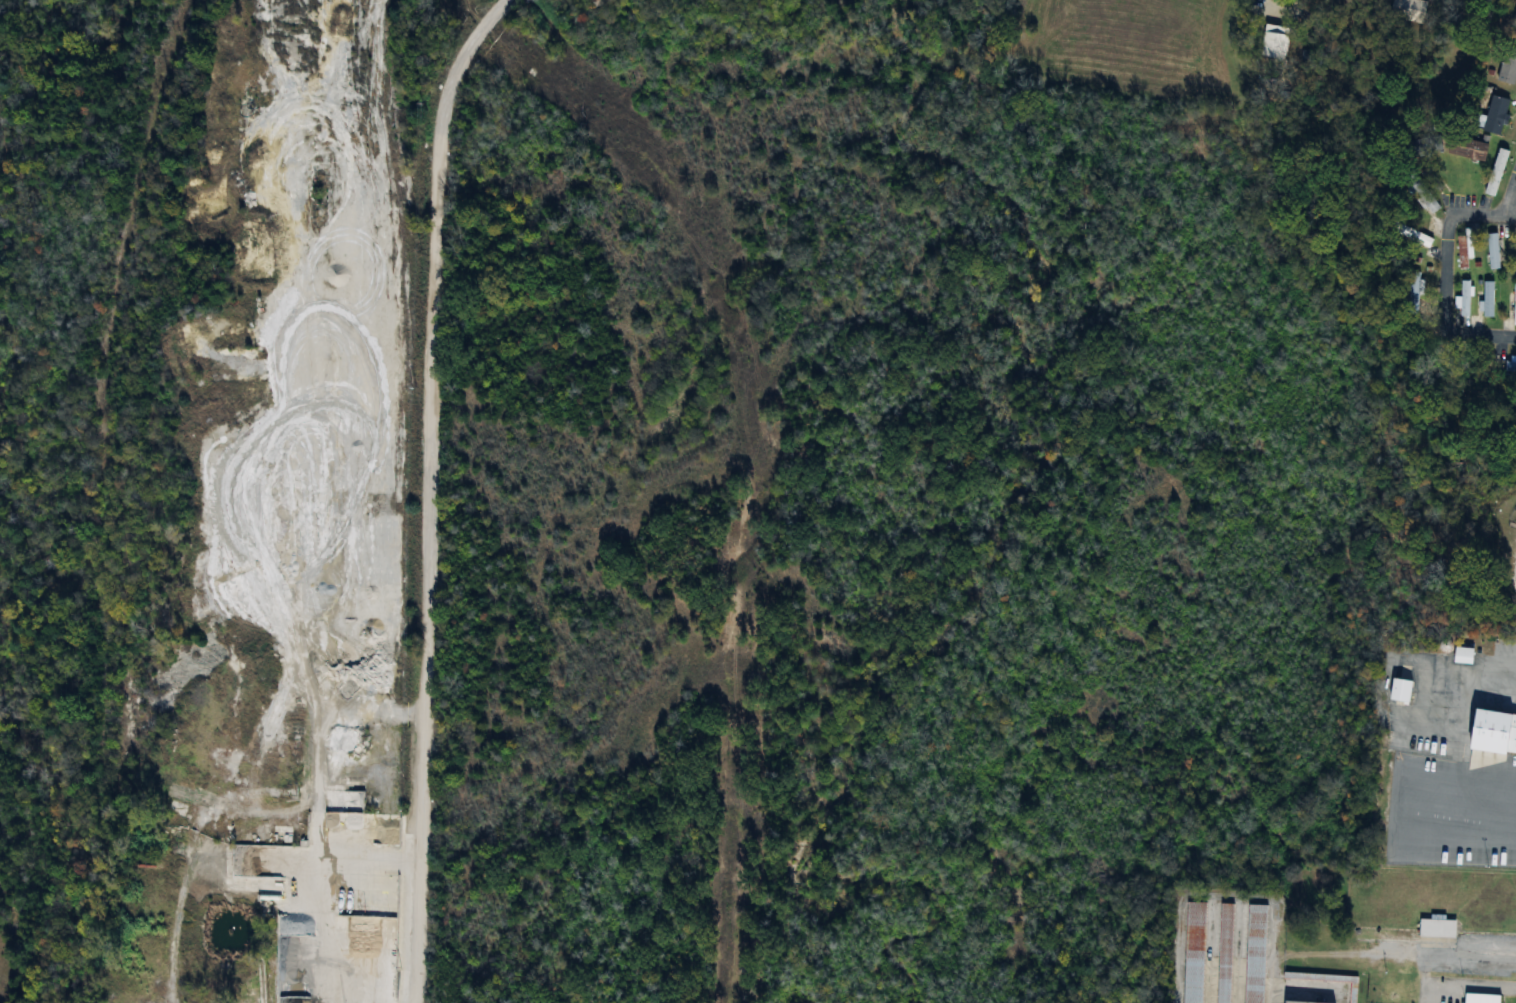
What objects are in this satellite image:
road: (1284, 1)
building: (1406, 9)
building: (1513, 21)
building: (1273, 42)
building: (1507, 66)
building: (1495, 115)
building: (1466, 149)
building: (1495, 172)
building: (1412, 185)
road: (1510, 194)
road: (1510, 215)
building: (1413, 236)
building: (1464, 250)
building: (1492, 252)
road: (1442, 280)
building: (1414, 292)
building: (1464, 299)
building: (1487, 300)
building: (1514, 304)
building: (1510, 368)
road: (428, 492)
building: (1511, 572)
building: (1399, 690)
building: (1504, 738)
road: (1464, 740)
building: (333, 821)
building: (1436, 927)
building: (1193, 952)
building: (1223, 953)
building: (1254, 953)
road: (1373, 953)
building: (1480, 998)
building: (1297, 1002)

